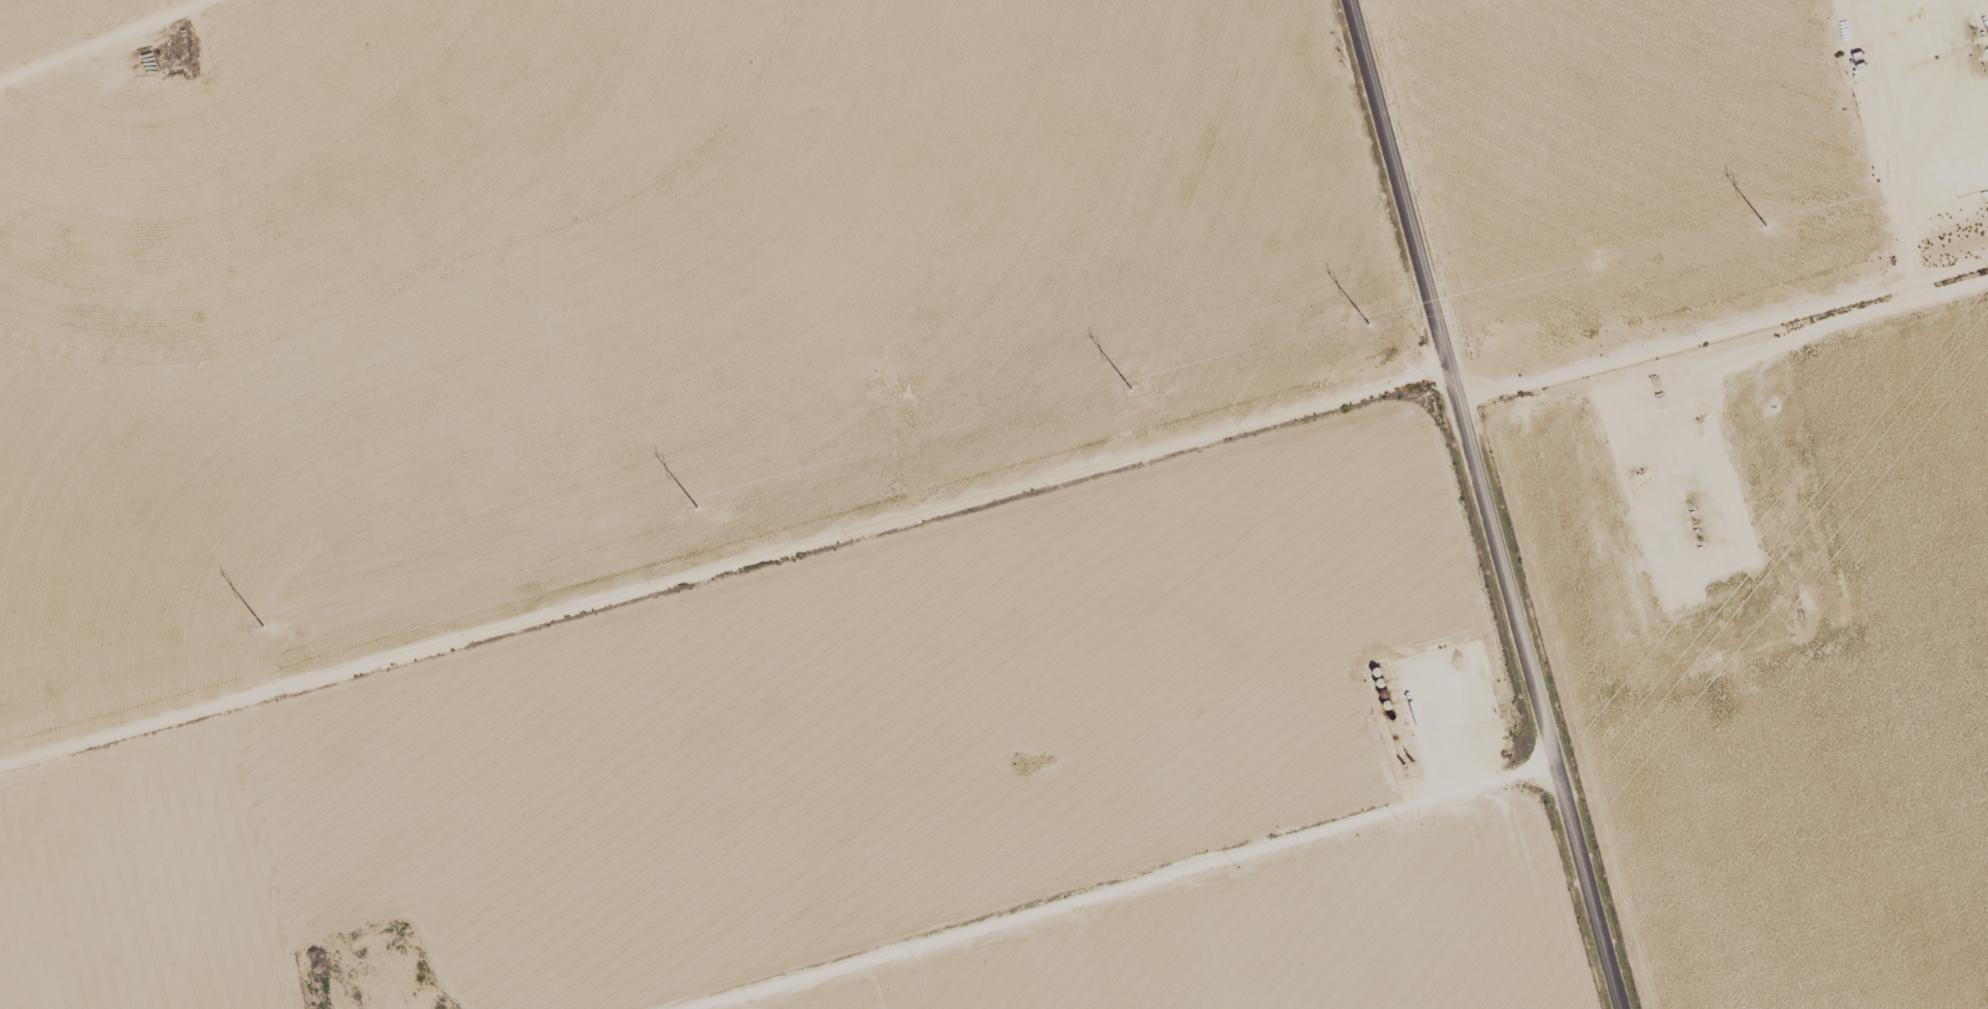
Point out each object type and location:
road: (263, 57)
road: (1402, 195)
power tower: (1767, 225)
power tower: (1369, 324)
power tower: (1130, 388)
power tower: (697, 508)
road: (725, 580)
power tower: (264, 625)
road: (1538, 700)

